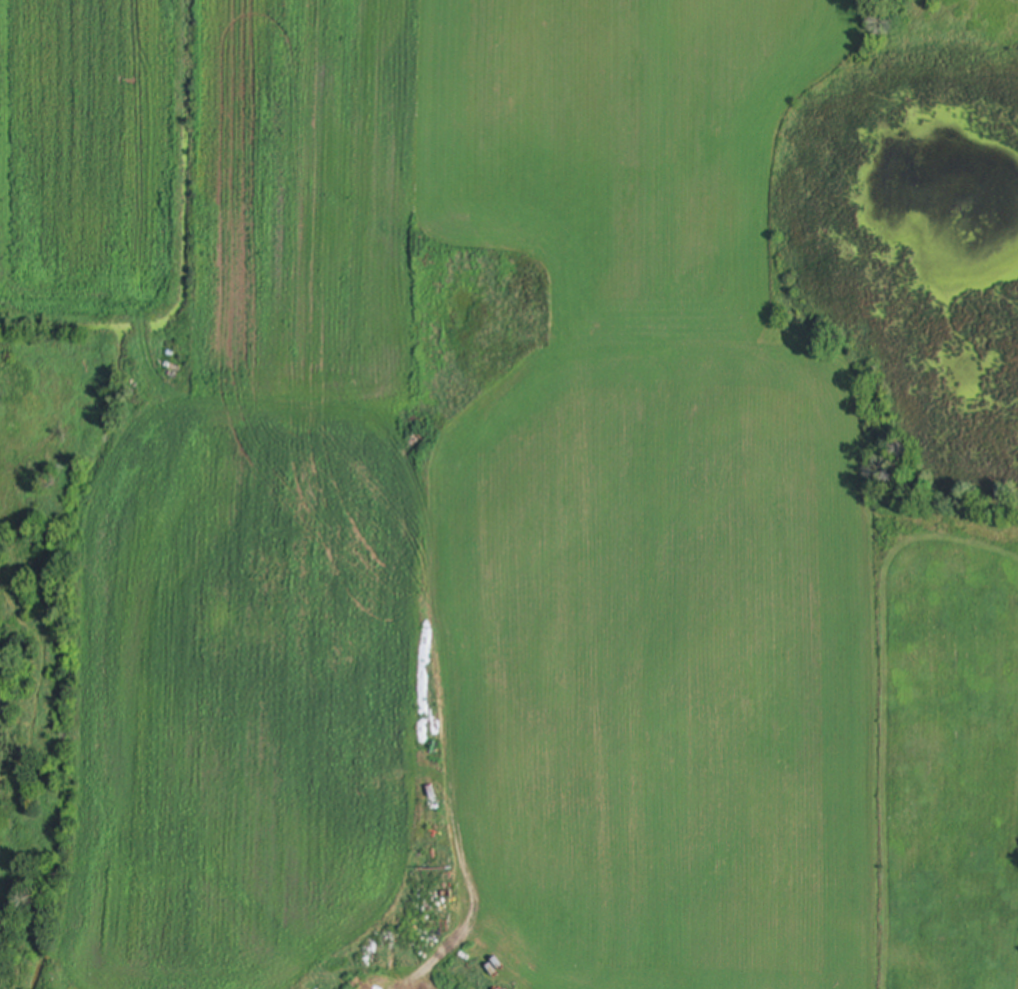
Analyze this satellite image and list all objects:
building: (429, 783)

